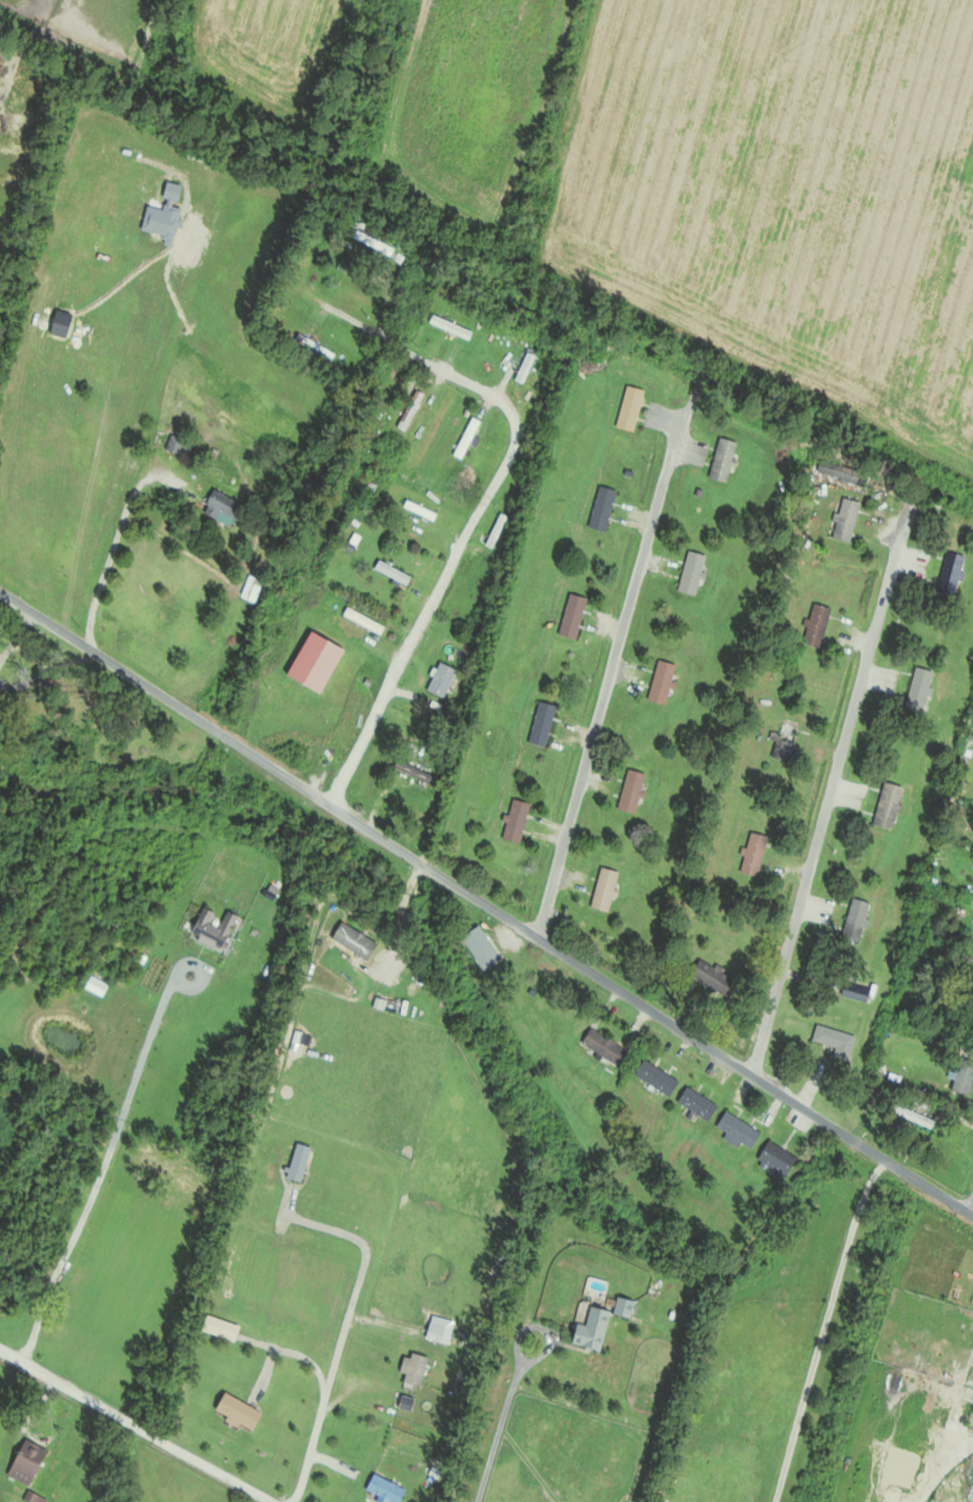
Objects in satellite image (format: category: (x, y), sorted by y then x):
building: (162, 225)
building: (373, 243)
building: (450, 326)
building: (527, 362)
building: (630, 408)
building: (410, 409)
building: (466, 437)
building: (176, 444)
building: (724, 459)
building: (843, 472)
building: (223, 506)
building: (603, 508)
road: (478, 512)
building: (846, 519)
building: (496, 529)
road: (117, 540)
building: (393, 571)
building: (692, 571)
building: (952, 571)
building: (573, 615)
building: (817, 624)
road: (609, 675)
building: (442, 679)
building: (662, 681)
building: (920, 688)
road: (164, 699)
building: (0, 704)
building: (543, 724)
building: (783, 742)
road: (831, 784)
building: (632, 791)
building: (888, 805)
building: (516, 820)
building: (754, 854)
building: (605, 889)
building: (856, 919)
building: (482, 947)
road: (183, 958)
building: (714, 977)
building: (856, 992)
road: (650, 1011)
building: (835, 1041)
building: (605, 1046)
building: (657, 1077)
building: (964, 1077)
building: (698, 1103)
building: (912, 1115)
building: (738, 1131)
building: (778, 1158)
road: (98, 1168)
road: (972, 1214)
road: (318, 1223)
parking lot: (956, 1268)
building: (624, 1307)
road: (538, 1327)
road: (823, 1328)
building: (594, 1329)
road: (291, 1350)
building: (417, 1370)
road: (326, 1377)
building: (892, 1377)
building: (239, 1413)
road: (138, 1425)
road: (498, 1432)
building: (28, 1464)
road: (943, 1471)
building: (386, 1488)

